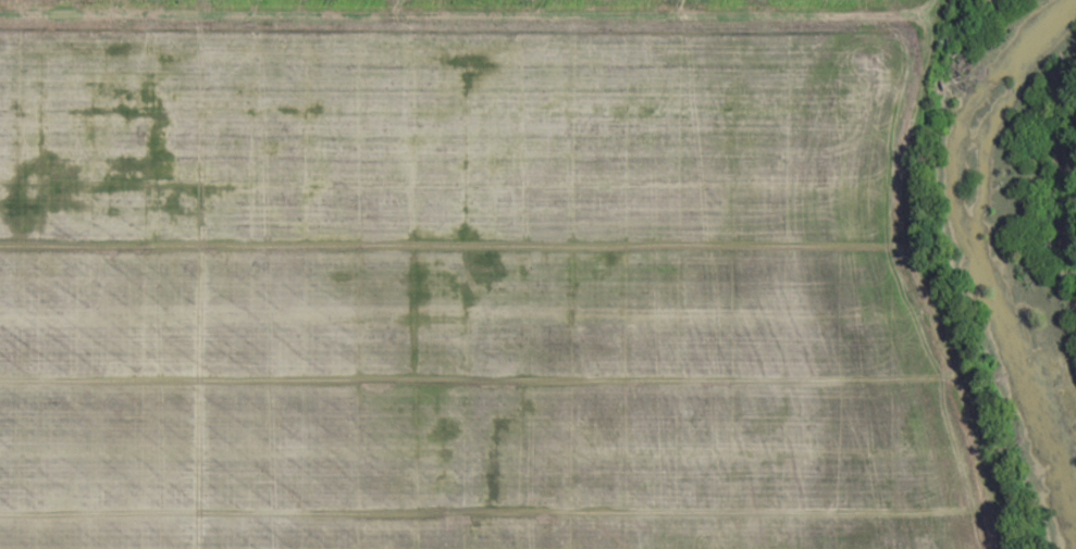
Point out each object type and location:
road: (456, 14)

